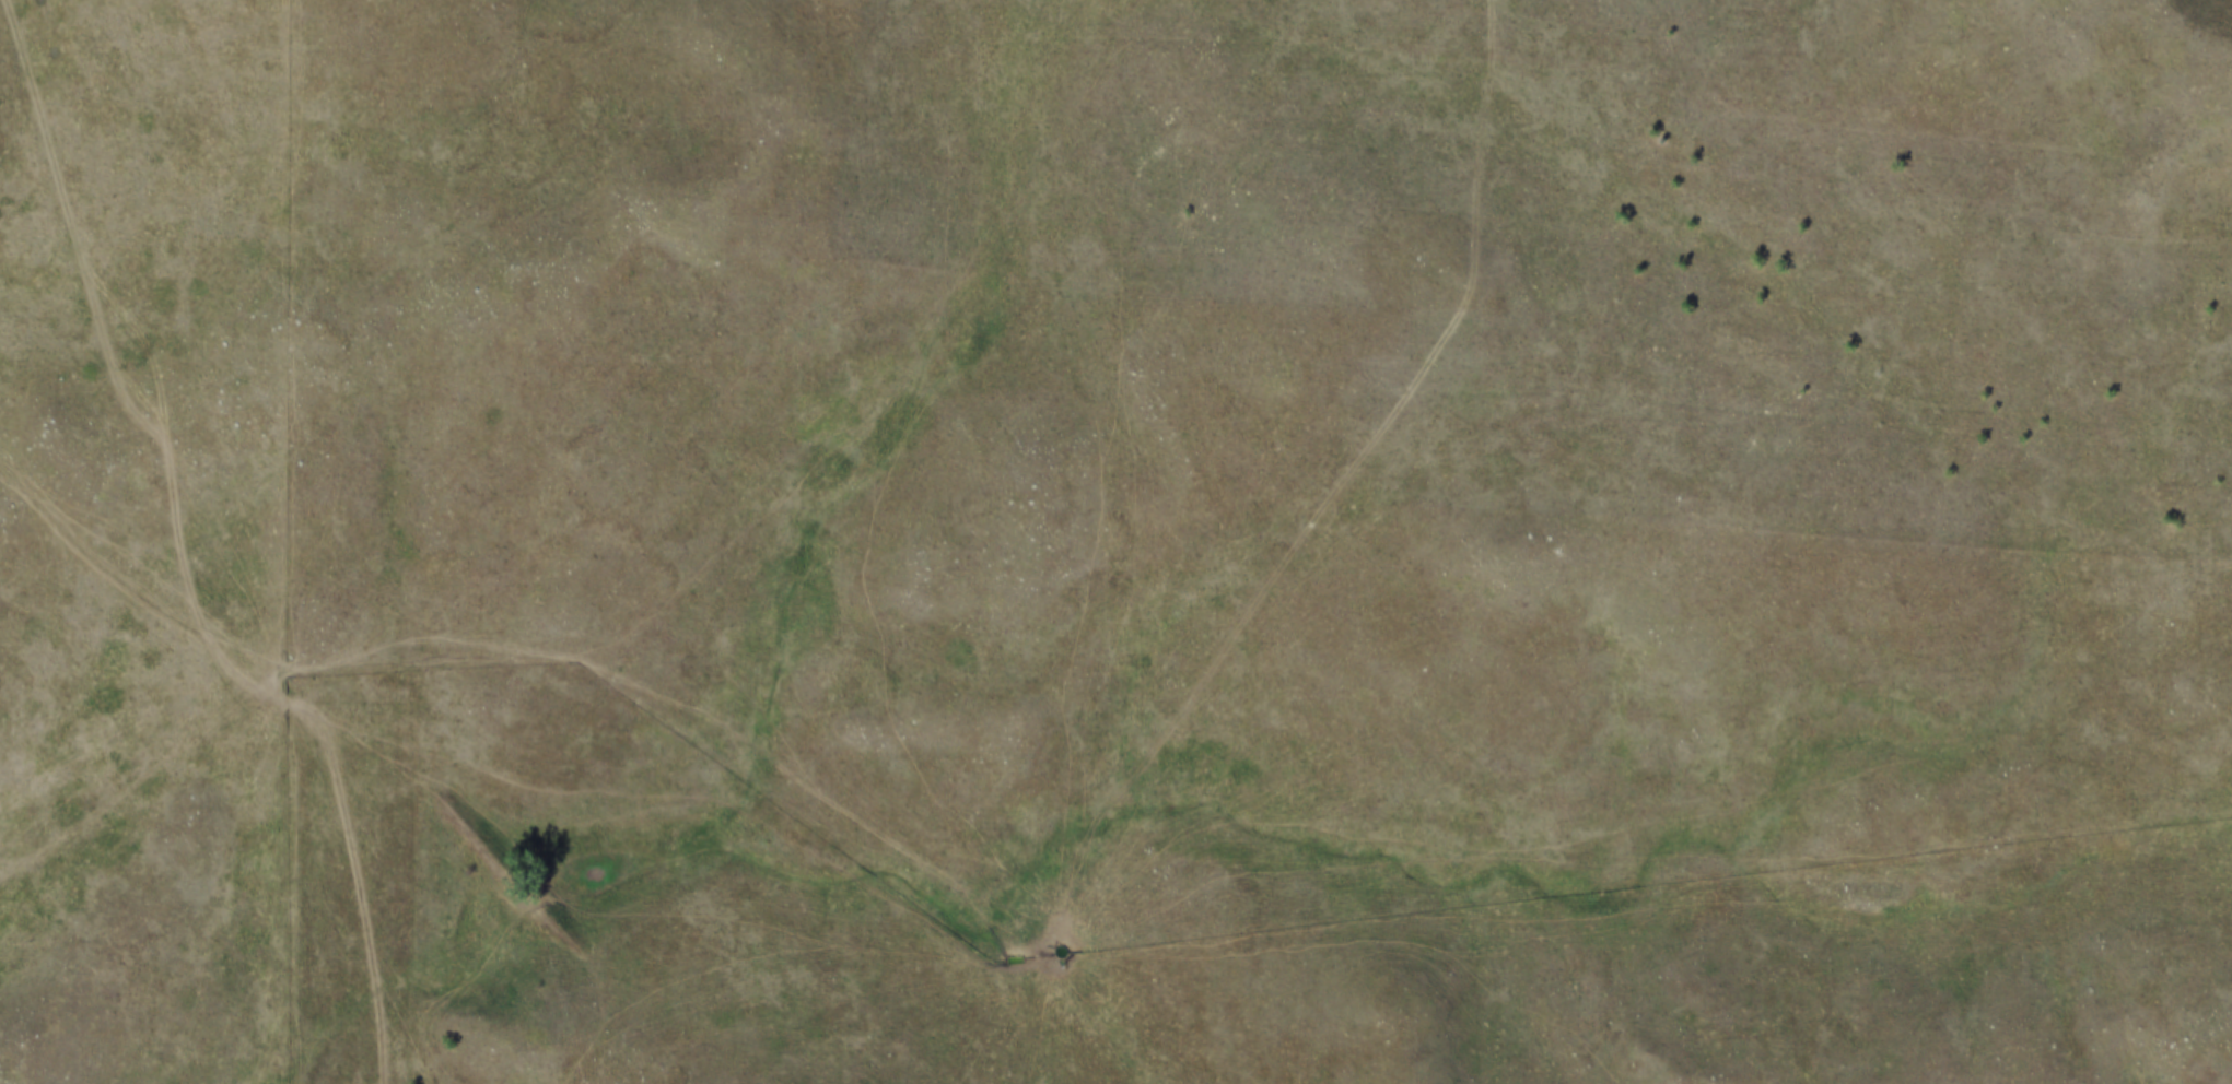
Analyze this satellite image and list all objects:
road: (682, 591)
road: (138, 755)

